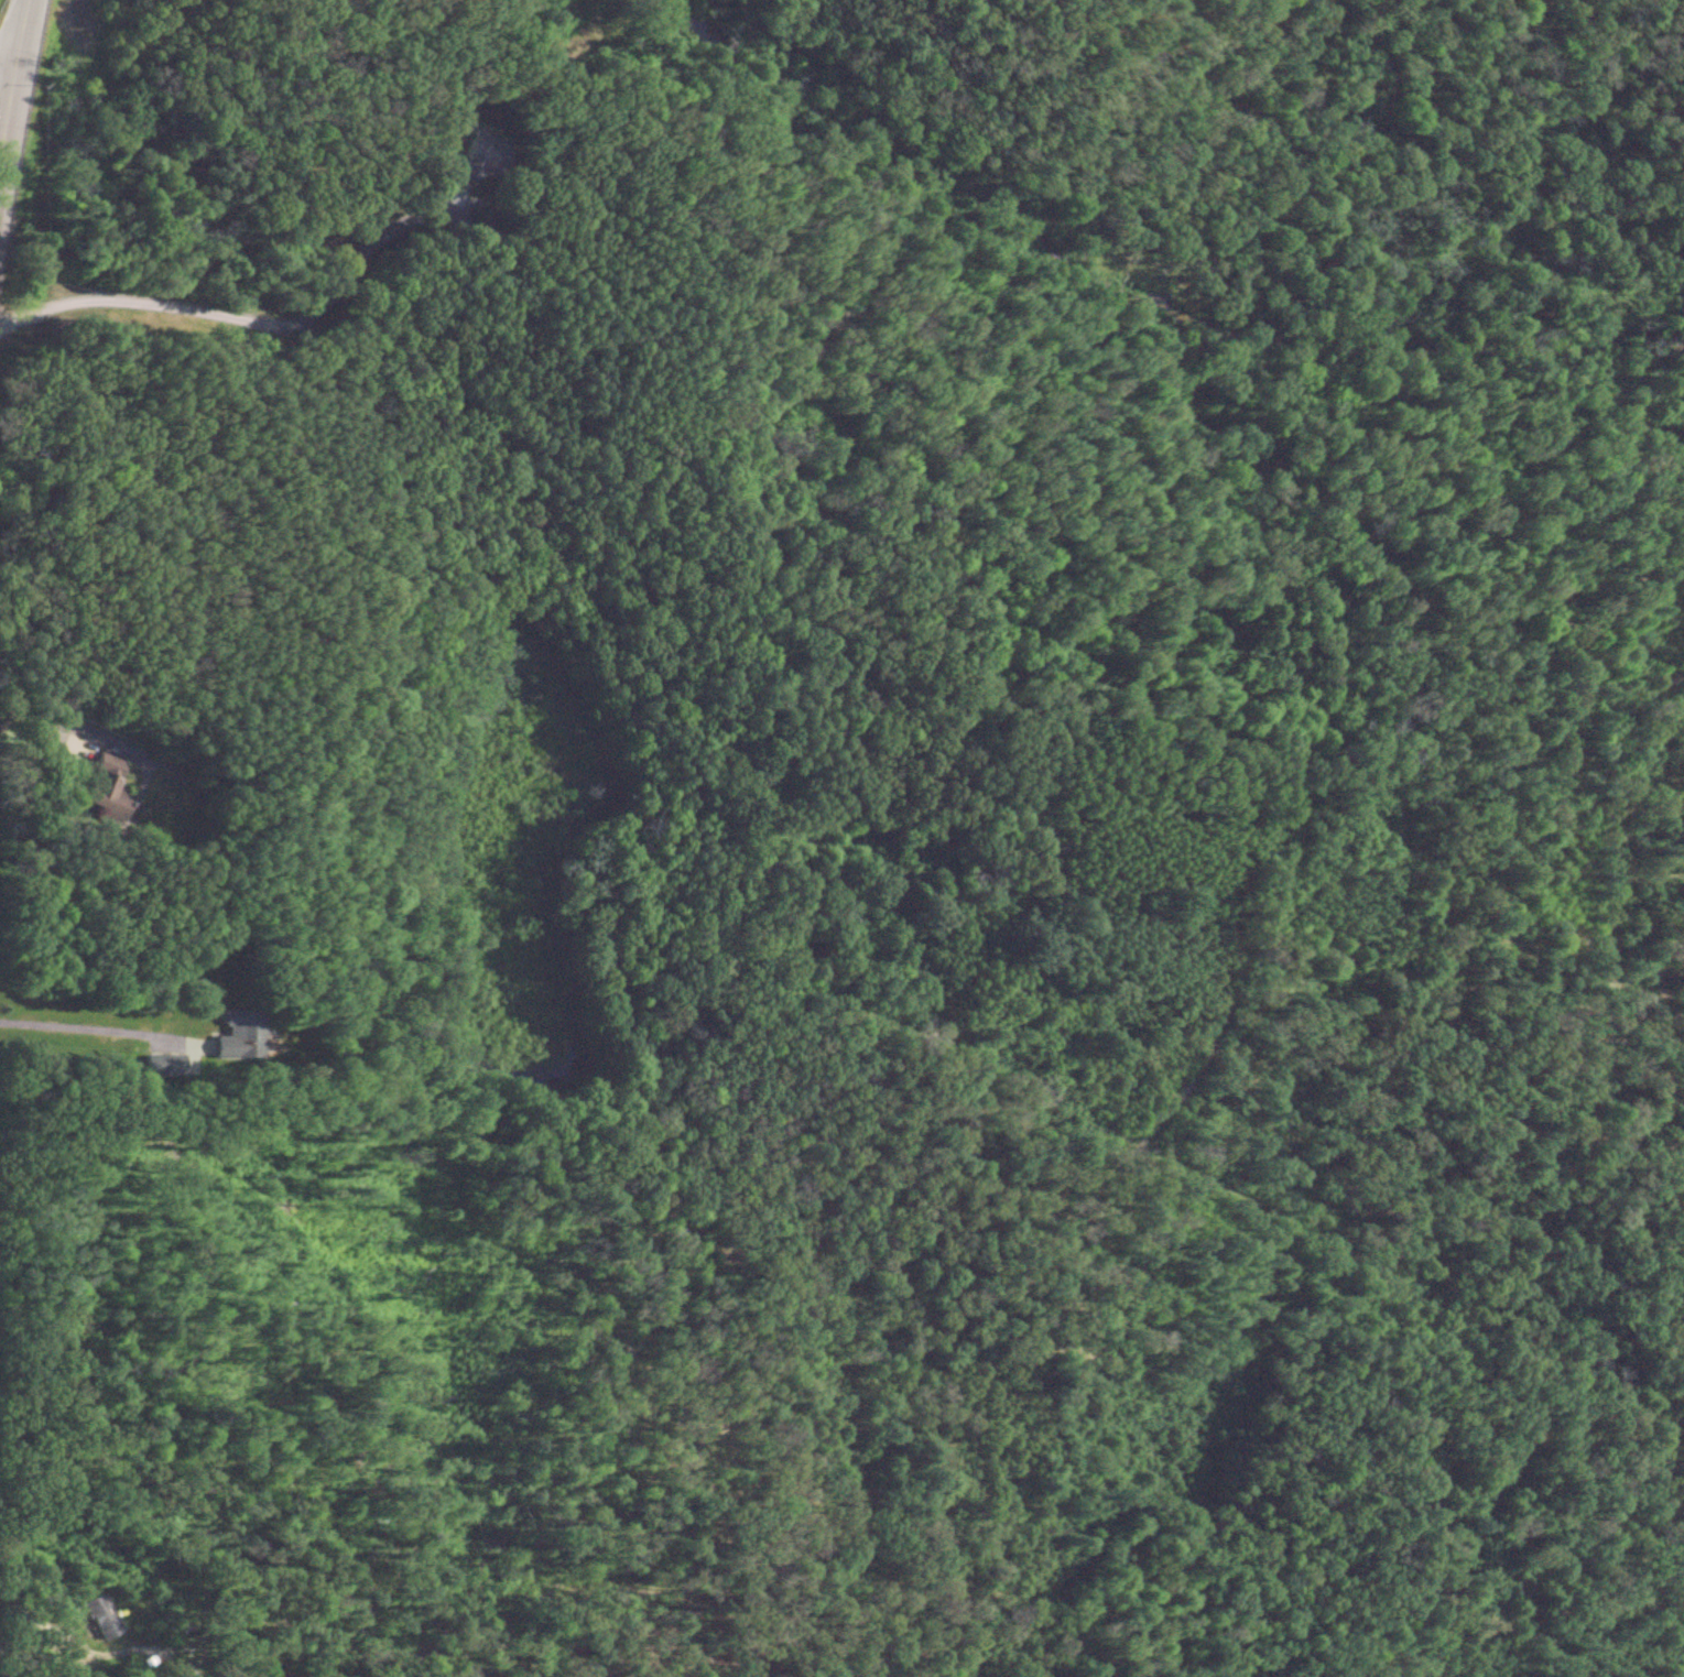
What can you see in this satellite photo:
road: (3, 36)
road: (6, 37)
building: (475, 151)
road: (230, 309)
road: (76, 719)
building: (97, 790)
road: (83, 1024)
building: (231, 1035)
road: (29, 1610)
building: (97, 1616)

